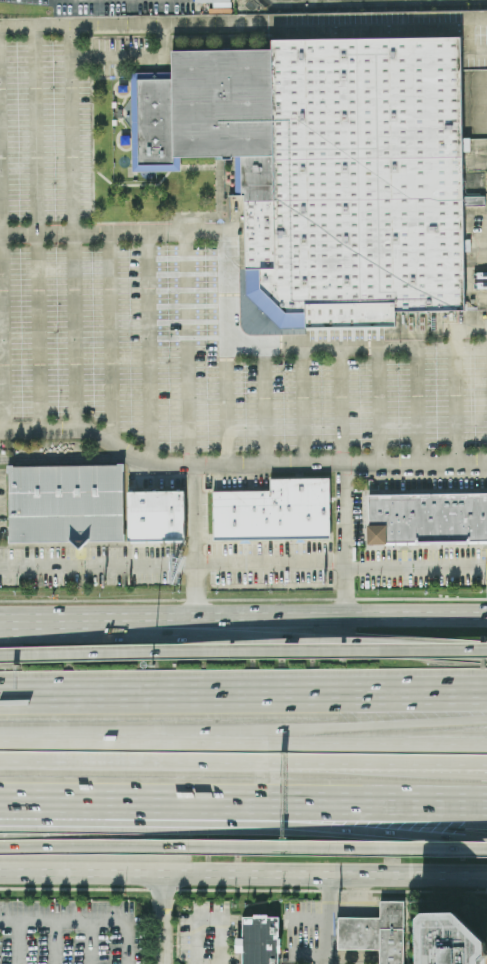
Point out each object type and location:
building: (216, 2)
road: (158, 28)
road: (51, 30)
road: (367, 30)
road: (16, 31)
building: (328, 169)
road: (71, 229)
road: (35, 230)
road: (227, 307)
road: (1, 312)
road: (110, 339)
road: (149, 348)
road: (187, 349)
road: (340, 404)
road: (378, 404)
road: (418, 404)
road: (456, 404)
road: (228, 405)
road: (265, 405)
road: (303, 405)
road: (239, 466)
building: (66, 504)
building: (156, 511)
building: (276, 511)
building: (427, 520)
road: (198, 542)
road: (343, 542)
road: (243, 568)
road: (246, 619)
road: (3, 622)
road: (246, 639)
road: (254, 653)
road: (11, 657)
road: (243, 696)
road: (441, 732)
road: (243, 736)
road: (172, 762)
road: (416, 764)
road: (415, 771)
road: (243, 803)
road: (243, 827)
road: (98, 848)
road: (342, 848)
road: (243, 876)
road: (85, 920)
road: (162, 920)
road: (208, 920)
road: (307, 920)
road: (328, 920)
building: (371, 932)
parking lot: (70, 933)
building: (443, 939)
building: (258, 941)
road: (18, 942)
road: (54, 942)
road: (90, 942)
road: (307, 957)

